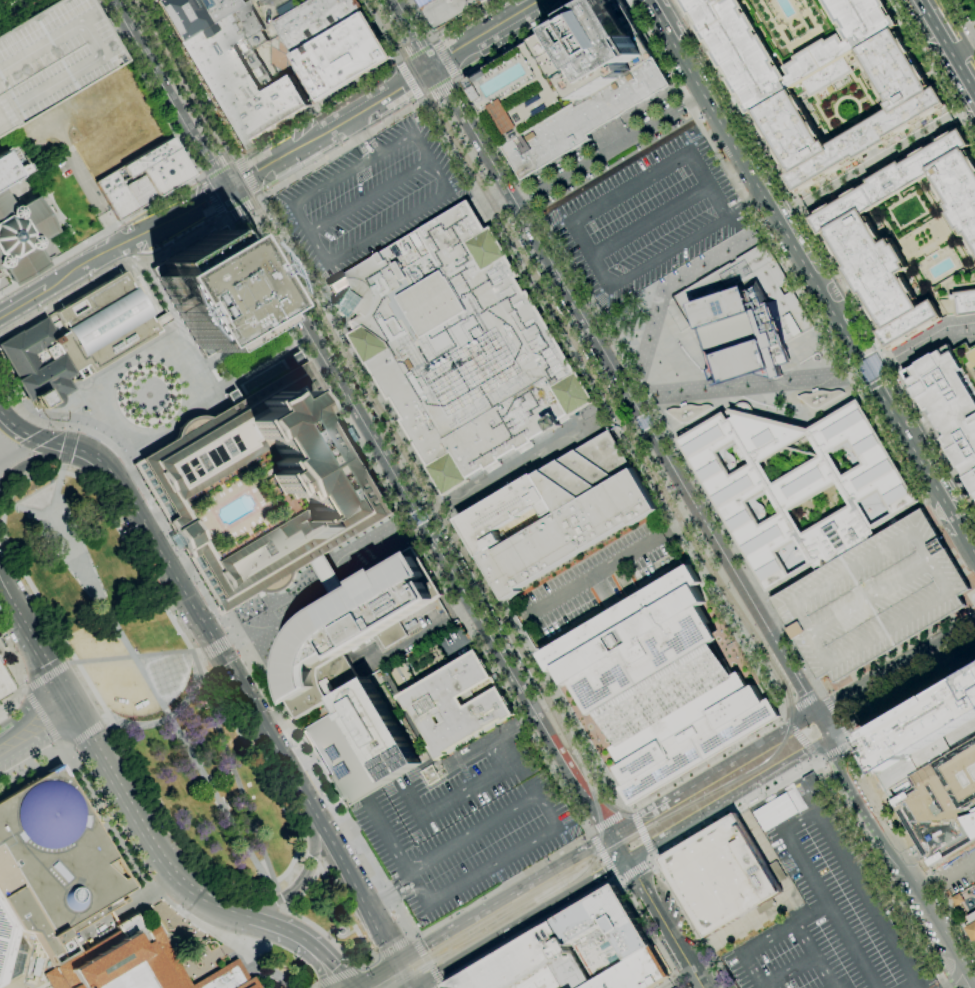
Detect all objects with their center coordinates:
road: (0, 0)
building: (484, 1)
road: (536, 4)
parking lot: (274, 6)
road: (13, 7)
building: (445, 10)
building: (189, 13)
road: (24, 15)
road: (964, 16)
building: (861, 19)
building: (314, 20)
road: (658, 22)
road: (392, 25)
road: (442, 29)
road: (957, 29)
road: (414, 32)
road: (481, 37)
road: (427, 38)
road: (430, 39)
road: (413, 47)
road: (946, 47)
building: (739, 50)
building: (342, 56)
road: (398, 56)
building: (52, 57)
parking lot: (52, 57)
road: (443, 58)
building: (817, 59)
road: (940, 59)
road: (397, 60)
traffic signals: (433, 66)
road: (934, 68)
building: (239, 75)
road: (456, 78)
road: (408, 79)
road: (175, 80)
road: (456, 82)
building: (568, 85)
road: (149, 87)
road: (439, 91)
road: (865, 91)
road: (385, 94)
road: (167, 95)
road: (863, 99)
road: (421, 100)
road: (425, 102)
road: (834, 103)
building: (780, 110)
road: (819, 113)
parking lot: (594, 120)
road: (856, 122)
road: (829, 130)
road: (267, 134)
road: (611, 135)
road: (351, 142)
road: (4, 143)
road: (608, 149)
road: (252, 150)
road: (470, 153)
road: (233, 155)
road: (875, 155)
road: (236, 156)
building: (149, 157)
road: (281, 157)
road: (877, 160)
building: (9, 165)
road: (217, 165)
road: (881, 165)
road: (291, 170)
building: (167, 172)
road: (513, 173)
road: (20, 174)
road: (202, 174)
road: (248, 175)
road: (202, 176)
parking lot: (79, 177)
road: (88, 183)
road: (630, 186)
road: (737, 186)
building: (140, 191)
traffic signals: (225, 191)
building: (116, 194)
parking lot: (372, 195)
road: (213, 196)
road: (260, 196)
road: (370, 197)
road: (260, 200)
road: (295, 205)
road: (495, 207)
flagpole: (123, 208)
road: (744, 208)
road: (245, 209)
road: (189, 210)
road: (225, 217)
parking lot: (647, 218)
road: (229, 219)
road: (242, 221)
road: (649, 221)
road: (908, 222)
road: (100, 233)
street lamp: (752, 235)
building: (21, 238)
building: (852, 239)
road: (537, 242)
street lamp: (728, 250)
road: (666, 253)
road: (823, 254)
road: (99, 255)
road: (52, 258)
road: (820, 260)
street lamp: (704, 265)
road: (805, 268)
road: (1, 270)
road: (140, 279)
road: (9, 281)
street lamp: (679, 281)
road: (674, 283)
building: (213, 291)
road: (159, 293)
street lamp: (662, 293)
building: (958, 294)
road: (23, 300)
street lamp: (655, 313)
building: (743, 317)
street lamp: (966, 326)
street lamp: (946, 329)
road: (245, 338)
street lamp: (648, 338)
road: (929, 338)
building: (76, 340)
street lamp: (929, 340)
road: (142, 341)
building: (459, 347)
street lamp: (911, 350)
park: (254, 352)
traffic signals: (882, 365)
road: (262, 366)
road: (348, 367)
road: (869, 371)
traffic signals: (868, 372)
railway: (607, 374)
railway: (361, 378)
street lamp: (812, 379)
street lamp: (789, 380)
flagpole: (13, 384)
street lamp: (746, 385)
road: (748, 387)
street lamp: (704, 389)
street lamp: (681, 391)
park: (143, 394)
street lamp: (654, 394)
building: (819, 397)
flagpole: (23, 401)
road: (617, 401)
building: (950, 401)
building: (687, 412)
road: (652, 413)
road: (642, 419)
road: (15, 428)
road: (626, 428)
road: (41, 433)
road: (71, 447)
traffic signals: (71, 449)
road: (76, 451)
road: (10, 453)
road: (32, 454)
road: (31, 462)
railway: (649, 467)
flagpole: (136, 468)
road: (518, 470)
street lamp: (525, 470)
flagpole: (138, 471)
flagpole: (140, 474)
flagpole: (142, 478)
street lamp: (511, 478)
flagpole: (144, 481)
flagpole: (145, 484)
building: (269, 484)
building: (795, 484)
flagpole: (147, 487)
street lamp: (493, 489)
flagpole: (149, 490)
flagpole: (151, 493)
road: (58, 495)
flagpole: (153, 496)
street lamp: (482, 496)
flagpole: (154, 499)
flagpole: (157, 503)
road: (931, 503)
road: (3, 504)
flagpole: (158, 506)
road: (945, 508)
flagpole: (160, 509)
flagpole: (162, 511)
road: (29, 512)
building: (503, 513)
building: (573, 513)
flagpole: (164, 515)
road: (418, 520)
road: (942, 522)
road: (957, 527)
flagpole: (171, 532)
flagpole: (169, 533)
flagpole: (170, 536)
flagpole: (172, 540)
flagpole: (174, 543)
street lamp: (383, 543)
road: (968, 544)
road: (432, 545)
flagpole: (175, 546)
flagpole: (177, 549)
flagpole: (183, 550)
flagpole: (180, 551)
street lamp: (366, 552)
road: (378, 552)
street lamp: (350, 561)
flagpole: (194, 564)
road: (613, 564)
road: (728, 566)
flagpole: (196, 567)
flagpole: (198, 569)
flagpole: (199, 573)
flagpole: (201, 575)
building: (328, 575)
flagpole: (203, 578)
flagpole: (204, 580)
road: (332, 580)
flagpole: (206, 583)
parking lot: (595, 584)
street lamp: (311, 585)
flagpole: (208, 586)
flagpole: (210, 590)
flagpole: (211, 593)
street lamp: (294, 595)
flagpole: (213, 596)
road: (974, 597)
building: (873, 598)
parking lot: (873, 598)
flagpole: (215, 599)
flagpole: (217, 602)
flagpole: (219, 605)
flagpole: (221, 608)
road: (279, 611)
street lamp: (264, 613)
street lamp: (247, 622)
building: (351, 629)
road: (422, 633)
road: (469, 639)
road: (190, 642)
road: (216, 647)
traffic signals: (215, 649)
road: (137, 656)
road: (73, 663)
road: (894, 667)
road: (863, 668)
road: (28, 672)
road: (21, 673)
fountain: (169, 676)
road: (48, 677)
road: (270, 678)
building: (4, 685)
road: (9, 685)
building: (659, 685)
road: (25, 688)
traffic signals: (63, 693)
road: (23, 694)
railway: (540, 694)
road: (901, 694)
road: (819, 695)
road: (821, 695)
building: (456, 704)
road: (164, 706)
park: (167, 706)
road: (801, 706)
road: (544, 708)
road: (172, 713)
traffic signals: (75, 714)
road: (781, 714)
traffic signals: (814, 715)
road: (834, 716)
road: (256, 717)
road: (783, 717)
road: (43, 719)
road: (107, 719)
road: (778, 722)
road: (86, 731)
building: (376, 731)
road: (506, 735)
road: (799, 736)
traffic signals: (828, 739)
road: (848, 739)
road: (848, 744)
road: (94, 746)
road: (61, 747)
road: (67, 748)
road: (834, 751)
road: (817, 756)
building: (344, 757)
road: (821, 758)
road: (794, 760)
building: (931, 769)
road: (712, 773)
road: (234, 774)
road: (783, 780)
road: (874, 784)
road: (782, 798)
road: (455, 800)
road: (629, 810)
road: (630, 810)
road: (577, 813)
railway: (630, 818)
road: (610, 820)
parking lot: (466, 821)
road: (693, 821)
road: (591, 831)
road: (641, 831)
road: (472, 833)
road: (590, 833)
traffic signals: (612, 834)
road: (388, 835)
road: (619, 847)
road: (895, 850)
road: (603, 855)
road: (651, 855)
road: (510, 856)
road: (650, 860)
traffic signals: (627, 861)
building: (54, 864)
road: (143, 869)
road: (634, 870)
parking lot: (956, 872)
road: (410, 873)
building: (721, 875)
road: (947, 876)
road: (615, 878)
road: (619, 879)
road: (862, 887)
road: (296, 888)
road: (420, 890)
road: (389, 891)
road: (278, 898)
road: (505, 898)
road: (821, 898)
railway: (541, 900)
road: (581, 901)
road: (149, 905)
road: (283, 906)
road: (226, 907)
parking lot: (823, 908)
road: (136, 912)
railway: (486, 924)
road: (518, 924)
road: (665, 924)
road: (280, 926)
building: (971, 926)
road: (363, 938)
road: (393, 947)
railway: (450, 950)
building: (577, 952)
road: (766, 953)
road: (825, 957)
traffic signals: (398, 961)
road: (426, 961)
building: (137, 964)
road: (314, 964)
road: (332, 964)
road: (790, 967)
building: (9, 972)
road: (378, 974)
road: (396, 974)
road: (336, 976)
road: (676, 978)
road: (963, 984)
road: (440, 986)
road: (313, 987)
road: (357, 987)
traffic signals: (358, 987)
road: (359, 987)

